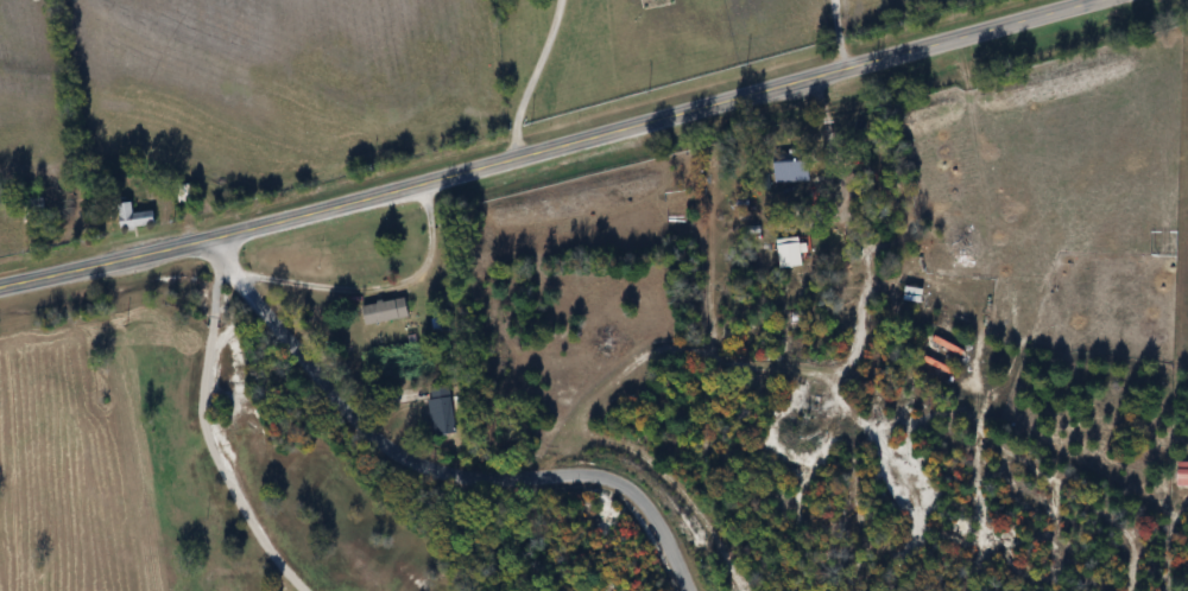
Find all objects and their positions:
road: (531, 76)
road: (545, 146)
building: (790, 254)
road: (377, 285)
building: (914, 295)
building: (386, 313)
building: (442, 413)
road: (207, 439)
road: (429, 468)
building: (1182, 476)

